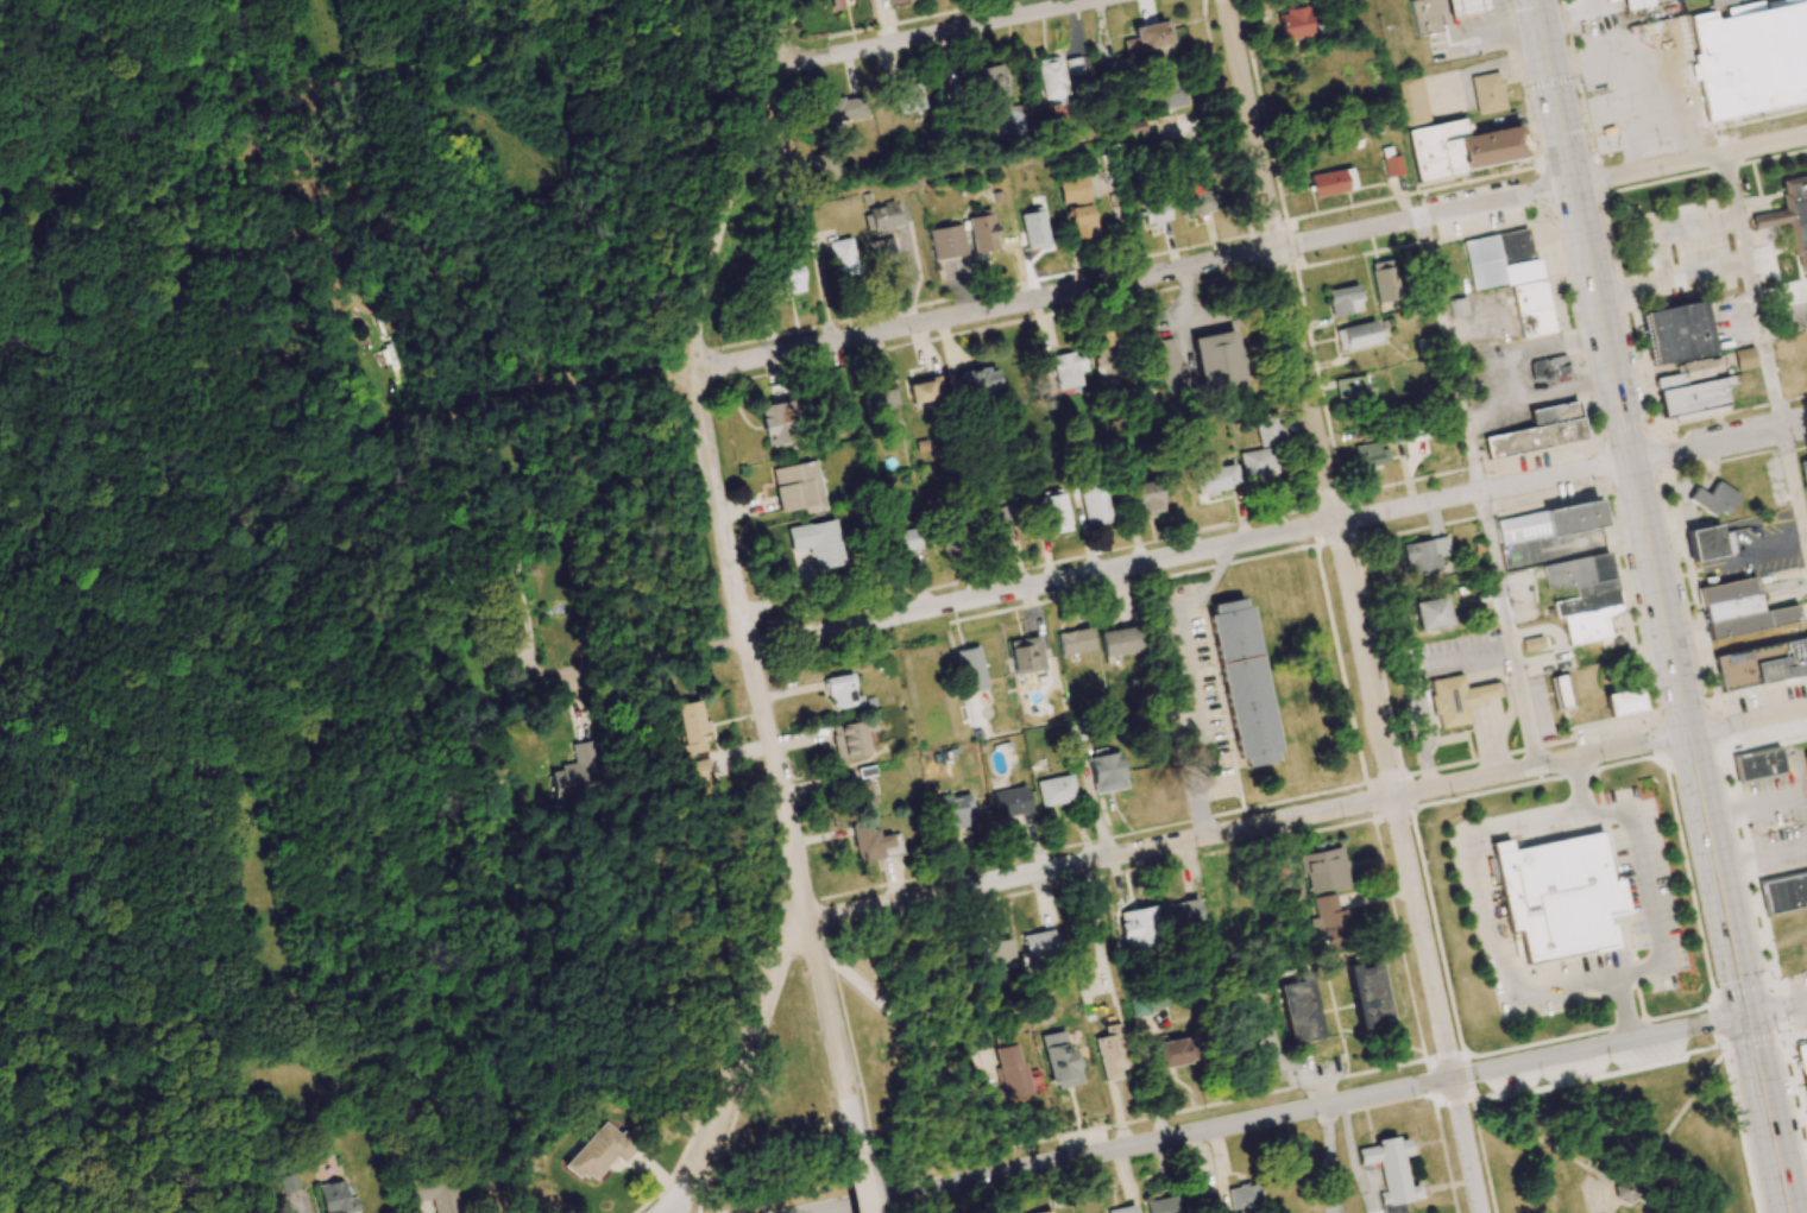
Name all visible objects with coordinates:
building: (892, 0)
building: (1720, 2)
building: (1636, 4)
building: (1467, 7)
building: (1425, 15)
building: (1293, 24)
road: (937, 33)
building: (1148, 37)
building: (1751, 58)
building: (1076, 65)
building: (1053, 84)
building: (993, 87)
building: (1167, 90)
building: (1487, 93)
building: (907, 96)
building: (1412, 101)
building: (844, 108)
building: (1460, 149)
road: (1690, 160)
building: (824, 165)
building: (1392, 165)
building: (1328, 182)
road: (737, 184)
building: (1195, 201)
building: (1078, 206)
building: (1154, 210)
building: (1790, 217)
building: (883, 219)
building: (1034, 229)
building: (982, 232)
building: (947, 241)
building: (883, 253)
building: (840, 257)
building: (787, 278)
road: (1137, 278)
building: (1385, 280)
road: (1754, 291)
building: (1343, 301)
building: (1457, 307)
building: (1532, 309)
building: (1676, 333)
building: (1356, 335)
street lamp: (719, 352)
building: (1103, 353)
road: (1456, 353)
building: (1744, 359)
building: (1217, 364)
building: (1068, 368)
building: (1548, 368)
building: (1170, 371)
building: (977, 380)
building: (1352, 388)
building: (924, 390)
building: (1692, 390)
road: (1308, 398)
building: (881, 406)
road: (446, 413)
building: (774, 418)
road: (1626, 429)
building: (1267, 430)
building: (1538, 431)
road: (1719, 441)
road: (1594, 454)
building: (1370, 456)
building: (1257, 462)
street lamp: (685, 465)
building: (1803, 475)
building: (1216, 480)
building: (797, 487)
road: (1794, 487)
building: (1146, 497)
building: (1713, 499)
building: (1094, 504)
road: (1642, 507)
road: (719, 508)
building: (1054, 512)
building: (1549, 523)
building: (999, 525)
building: (903, 539)
building: (814, 542)
building: (1707, 543)
road: (1191, 552)
building: (1424, 554)
building: (1584, 595)
building: (1739, 609)
building: (1430, 613)
street lamp: (760, 628)
road: (1511, 628)
building: (1120, 640)
building: (1075, 642)
building: (1532, 646)
building: (1026, 655)
road: (670, 659)
building: (1761, 664)
building: (970, 669)
building: (1242, 681)
road: (1189, 682)
building: (840, 691)
building: (1559, 691)
building: (1457, 700)
building: (1623, 702)
road: (1748, 721)
building: (692, 727)
building: (849, 739)
street lamp: (744, 741)
road: (1713, 745)
building: (1806, 754)
road: (1541, 765)
building: (1761, 765)
building: (700, 770)
building: (1107, 772)
building: (579, 773)
building: (1056, 790)
building: (858, 795)
building: (1013, 801)
building: (953, 813)
building: (873, 842)
road: (1098, 857)
building: (1323, 870)
building: (1784, 892)
building: (1557, 893)
road: (1644, 893)
street lamp: (774, 908)
building: (1182, 914)
building: (1329, 922)
building: (1140, 927)
road: (787, 937)
building: (1039, 943)
road: (1770, 983)
road: (864, 991)
building: (1366, 996)
road: (1436, 1004)
road: (826, 1009)
road: (1777, 1010)
building: (1299, 1011)
traffic signals: (1749, 1016)
road: (845, 1022)
street lamp: (770, 1023)
street lamp: (817, 1032)
building: (1110, 1053)
building: (1171, 1053)
building: (1801, 1057)
building: (1062, 1066)
road: (1597, 1069)
building: (1014, 1074)
road: (1469, 1086)
building: (1803, 1087)
road: (1465, 1099)
building: (1806, 1107)
road: (1681, 1112)
road: (1769, 1113)
road: (1277, 1114)
road: (1738, 1127)
street lamp: (863, 1130)
park: (1618, 1139)
street lamp: (732, 1142)
road: (1543, 1144)
building: (599, 1151)
road: (1485, 1155)
road: (869, 1156)
road: (857, 1157)
building: (1391, 1171)
building: (289, 1182)
building: (1629, 1192)
building: (437, 1193)
building: (1242, 1196)
building: (338, 1198)
building: (1202, 1202)
building: (1161, 1205)
road: (1650, 1206)
road: (1617, 1208)
building: (1123, 1209)
road: (289, 1212)
building: (1045, 1212)
building: (1239, 1212)

